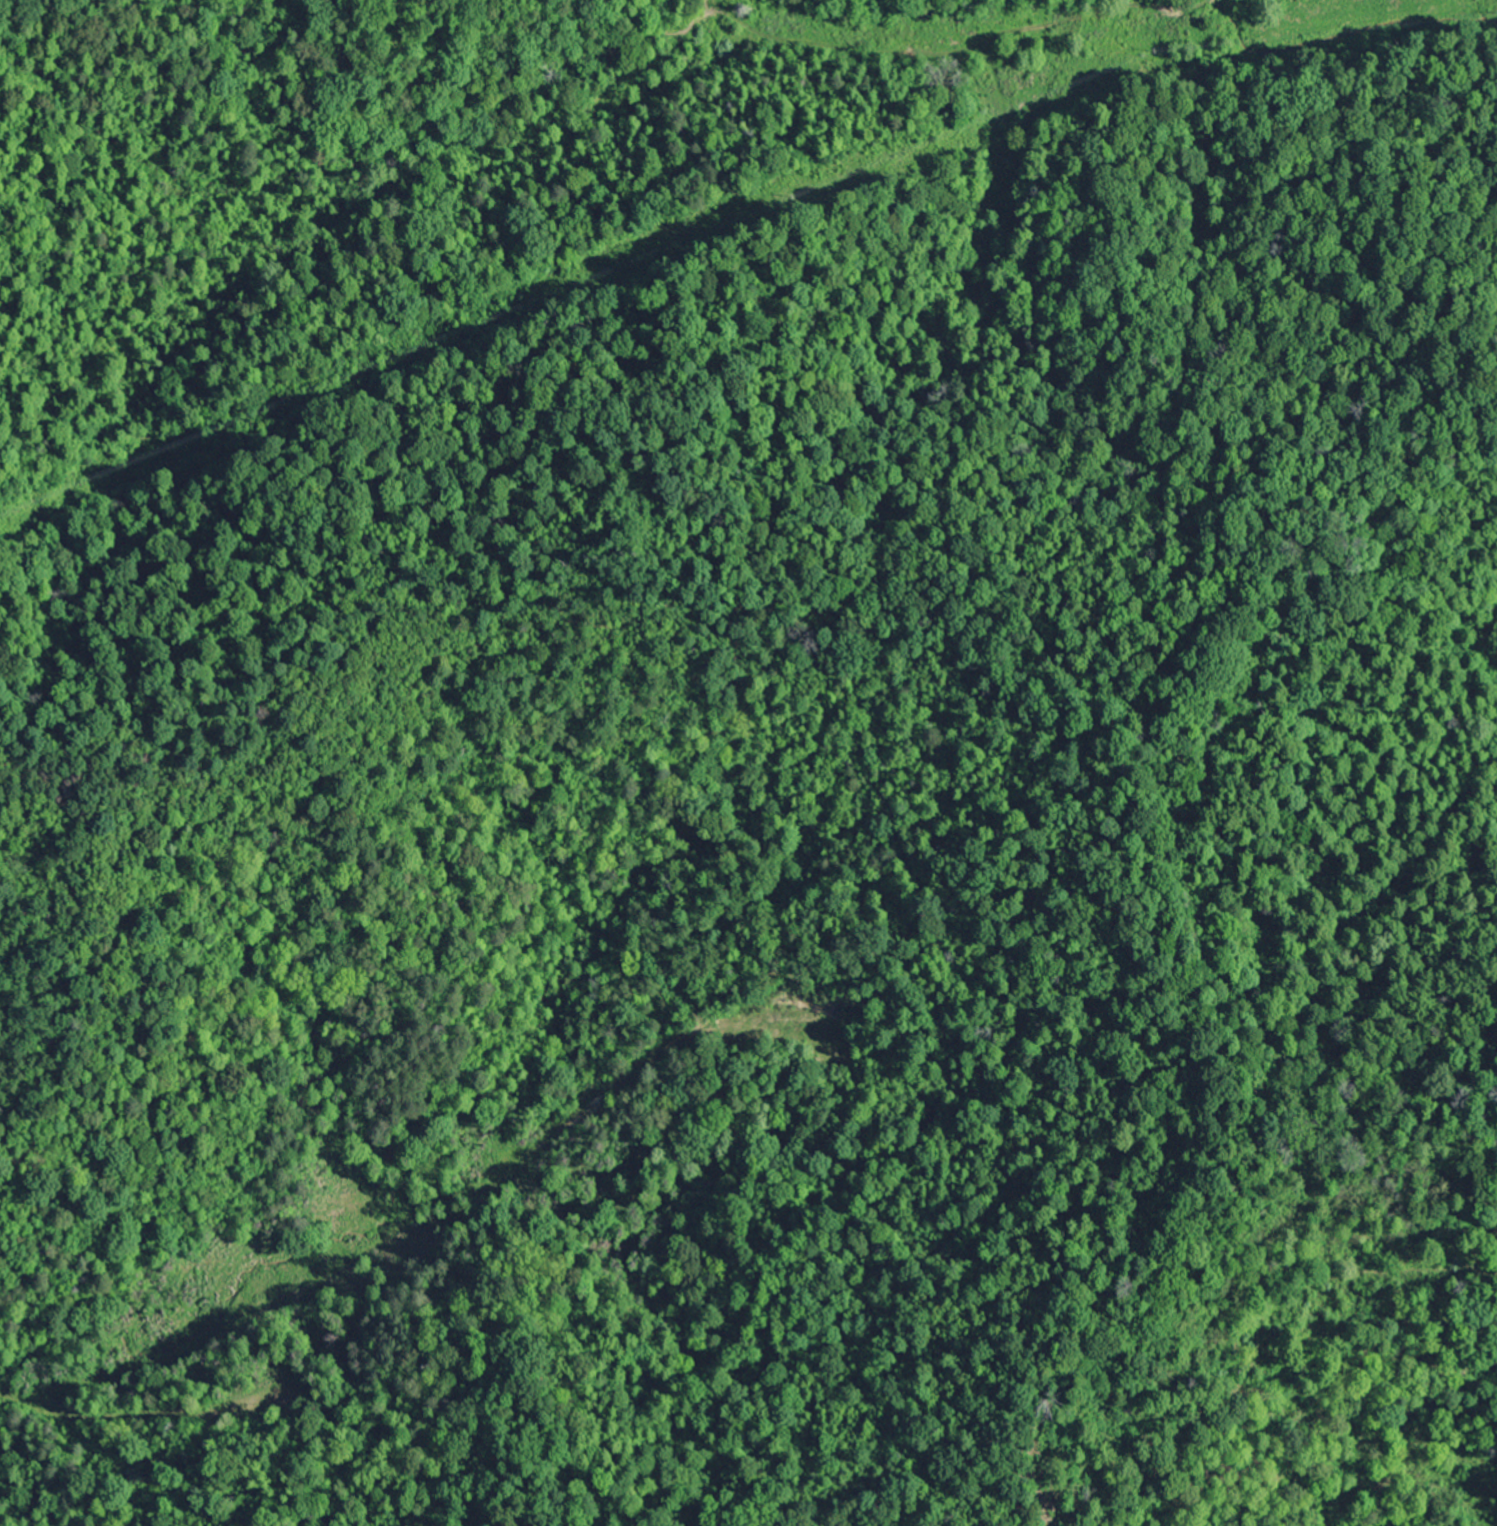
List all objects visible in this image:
road: (1061, 63)
road: (92, 1053)

